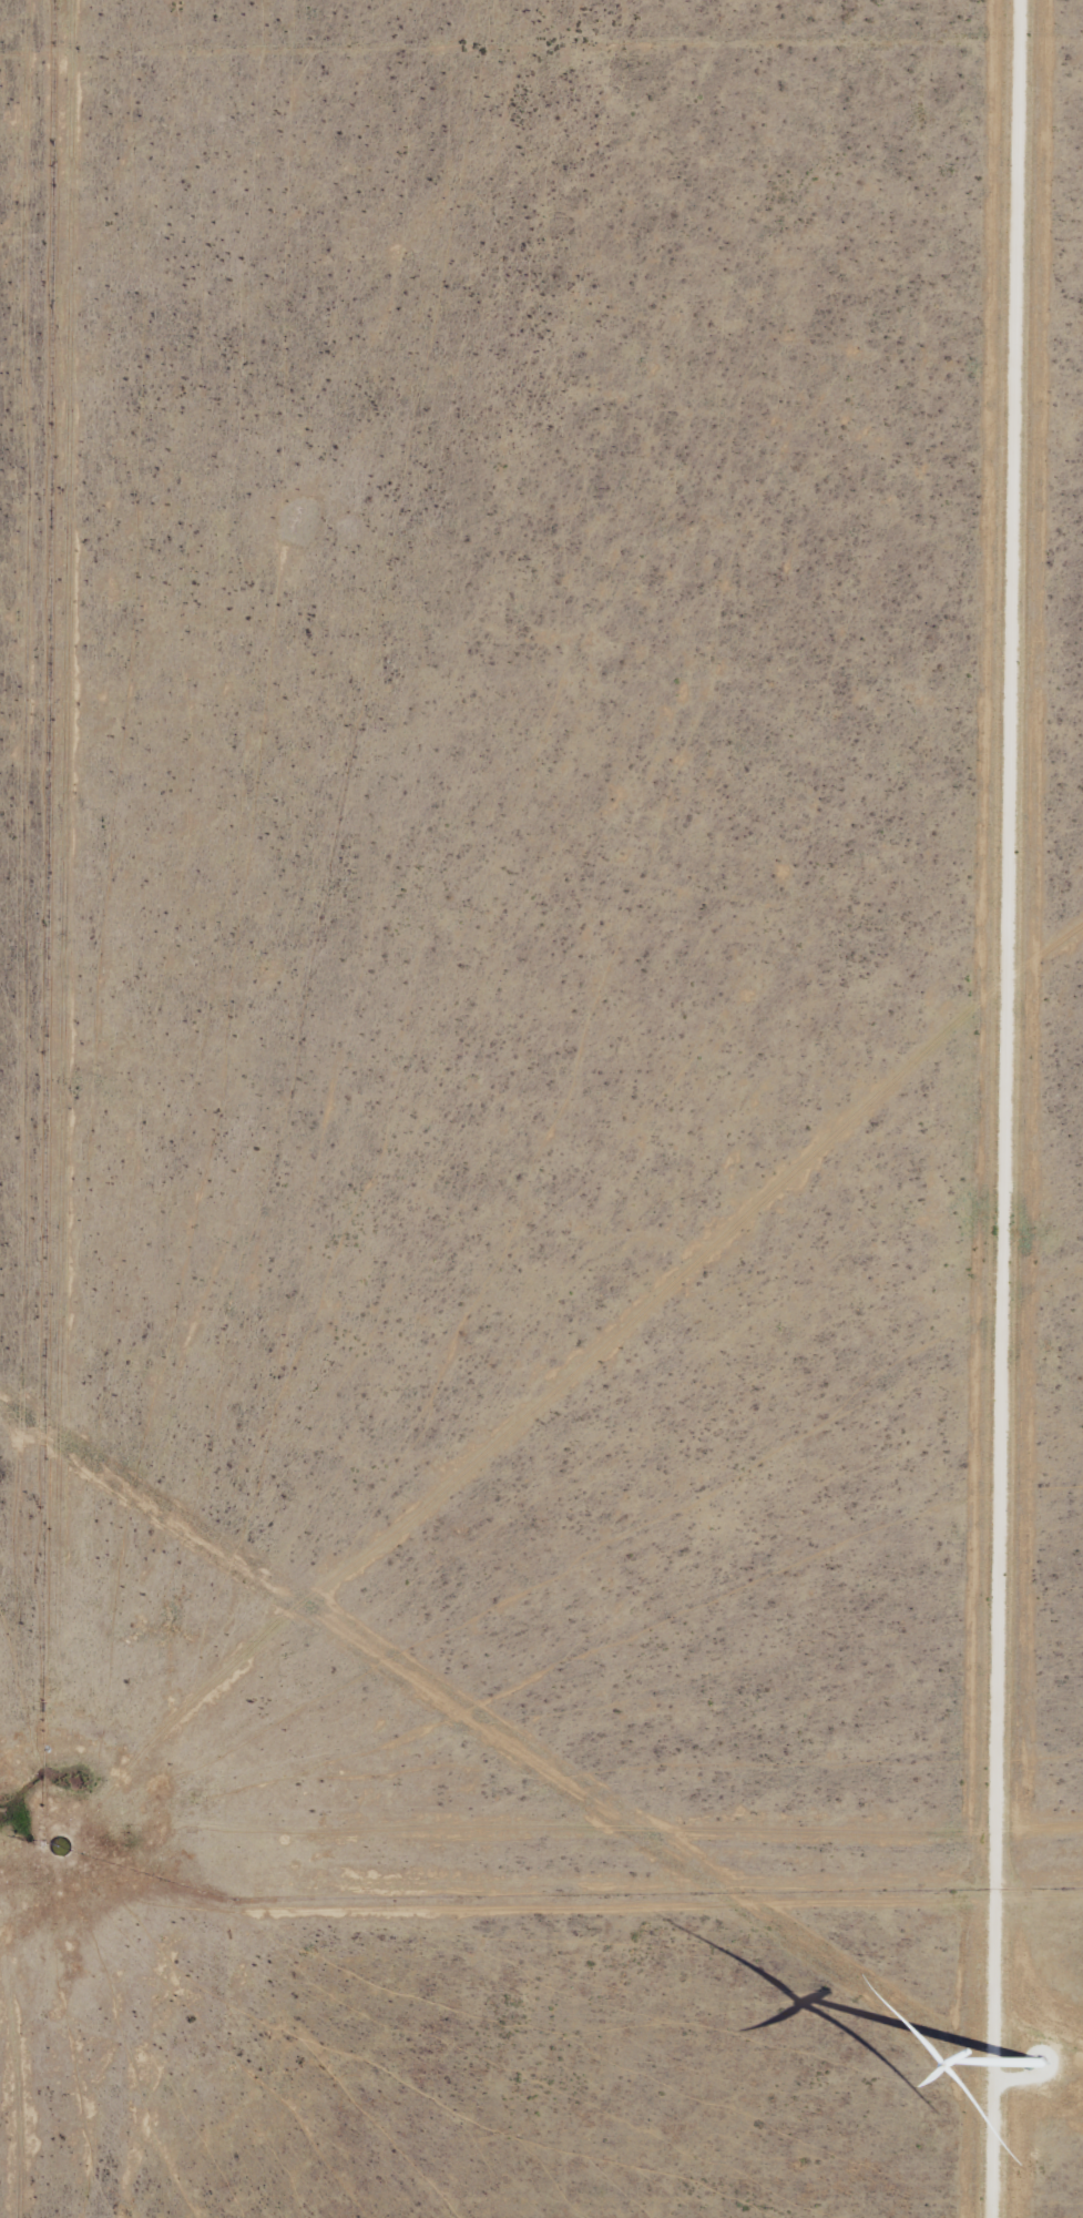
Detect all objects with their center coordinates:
wind turbine: (1035, 2059)

